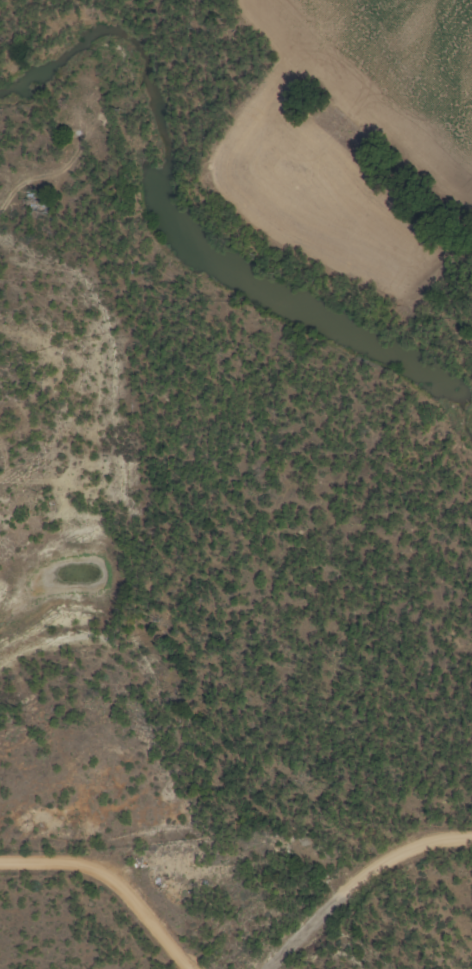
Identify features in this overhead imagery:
road: (338, 899)
road: (76, 908)

